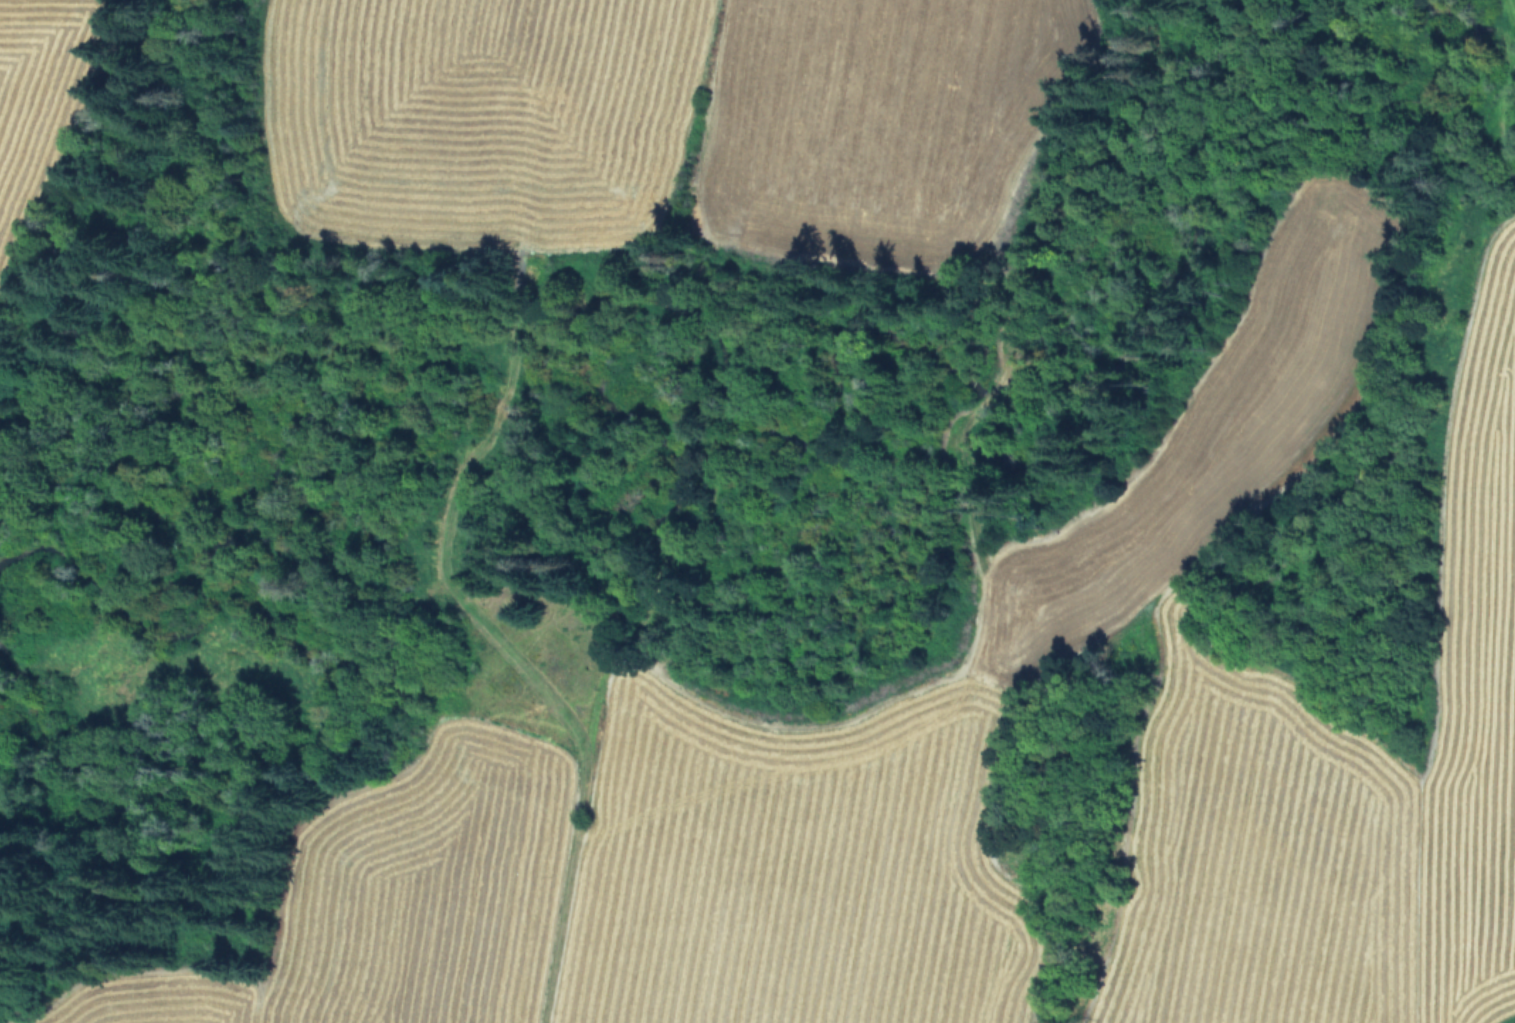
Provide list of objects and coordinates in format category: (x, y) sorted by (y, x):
crop: (24, 72)
crop: (653, 109)
river: (763, 376)
crop: (923, 837)

